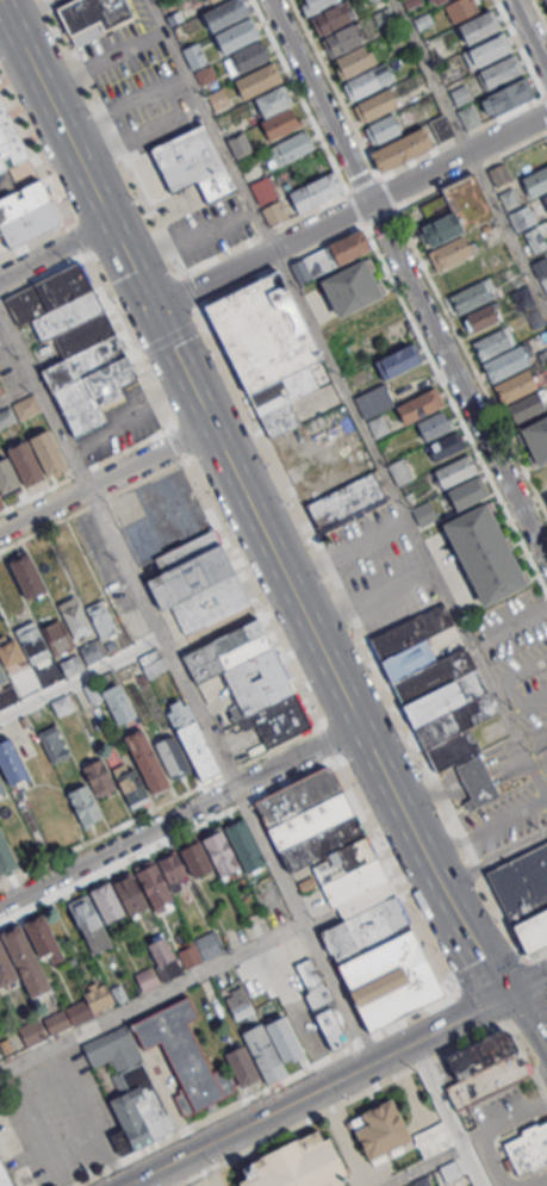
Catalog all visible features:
building: (210, 0)
building: (436, 1)
building: (546, 1)
building: (315, 5)
building: (461, 8)
building: (224, 13)
road: (540, 13)
building: (92, 17)
building: (329, 18)
road: (4, 23)
building: (477, 26)
building: (236, 35)
road: (528, 36)
building: (340, 39)
road: (518, 48)
building: (489, 49)
building: (194, 56)
building: (245, 58)
building: (355, 60)
building: (498, 72)
building: (205, 75)
road: (431, 75)
building: (257, 80)
building: (365, 82)
road: (336, 87)
building: (460, 93)
building: (510, 94)
road: (299, 95)
road: (543, 98)
building: (217, 99)
building: (374, 105)
building: (468, 116)
building: (275, 124)
road: (211, 125)
building: (383, 129)
road: (114, 136)
building: (410, 143)
road: (443, 143)
building: (240, 144)
building: (290, 147)
road: (33, 157)
building: (191, 163)
road: (471, 169)
building: (536, 181)
building: (19, 190)
building: (315, 191)
road: (347, 191)
building: (508, 197)
building: (545, 198)
building: (268, 200)
building: (458, 211)
road: (349, 212)
building: (523, 216)
road: (508, 230)
road: (48, 235)
road: (248, 240)
road: (54, 252)
building: (448, 253)
building: (331, 254)
road: (406, 279)
building: (545, 282)
building: (352, 287)
building: (468, 297)
traffic signals: (151, 311)
road: (113, 315)
building: (481, 317)
road: (168, 335)
building: (493, 342)
building: (75, 344)
road: (462, 344)
building: (266, 348)
road: (219, 350)
building: (397, 361)
building: (504, 364)
road: (179, 365)
building: (515, 385)
road: (18, 391)
road: (43, 396)
building: (18, 411)
road: (129, 416)
building: (434, 424)
building: (378, 426)
building: (536, 440)
building: (443, 446)
building: (46, 452)
building: (25, 462)
road: (83, 468)
building: (399, 471)
building: (454, 471)
building: (6, 476)
road: (104, 478)
building: (467, 492)
building: (546, 495)
road: (205, 501)
building: (1, 503)
building: (346, 503)
parking lot: (158, 514)
building: (424, 514)
road: (410, 524)
building: (484, 553)
road: (124, 561)
building: (26, 576)
building: (197, 582)
building: (99, 617)
building: (74, 619)
building: (56, 637)
building: (31, 642)
building: (10, 652)
building: (89, 653)
building: (70, 664)
building: (1, 676)
road: (80, 677)
building: (249, 682)
building: (7, 695)
building: (443, 697)
building: (61, 704)
road: (199, 712)
building: (181, 716)
building: (131, 732)
road: (533, 739)
building: (52, 744)
building: (172, 757)
road: (536, 759)
building: (11, 762)
road: (378, 766)
road: (478, 766)
building: (99, 777)
road: (485, 782)
building: (130, 783)
building: (1, 786)
road: (271, 790)
building: (297, 795)
road: (417, 796)
road: (174, 799)
building: (83, 803)
road: (425, 812)
road: (402, 813)
road: (179, 815)
road: (485, 828)
road: (415, 840)
building: (323, 843)
building: (243, 844)
road: (511, 850)
building: (220, 852)
building: (5, 856)
road: (267, 856)
road: (430, 871)
road: (456, 875)
building: (161, 880)
building: (130, 894)
building: (524, 895)
building: (106, 902)
building: (88, 923)
building: (41, 934)
road: (471, 940)
road: (516, 945)
building: (201, 949)
road: (537, 954)
road: (526, 958)
building: (25, 961)
road: (220, 962)
building: (6, 967)
road: (487, 975)
road: (536, 975)
building: (390, 980)
road: (447, 981)
road: (528, 985)
road: (287, 995)
traffic signals: (509, 995)
building: (323, 1004)
building: (238, 1005)
road: (475, 1010)
road: (421, 1011)
building: (70, 1013)
road: (527, 1013)
road: (530, 1025)
road: (439, 1030)
building: (282, 1037)
building: (113, 1048)
building: (480, 1053)
building: (263, 1054)
building: (184, 1055)
road: (530, 1063)
building: (242, 1066)
building: (485, 1080)
road: (546, 1095)
road: (347, 1100)
building: (138, 1106)
road: (230, 1106)
road: (446, 1114)
road: (247, 1125)
road: (485, 1128)
building: (378, 1129)
road: (468, 1136)
building: (433, 1140)
building: (528, 1147)
building: (299, 1165)
road: (423, 1167)
building: (4, 1176)
road: (535, 1180)

